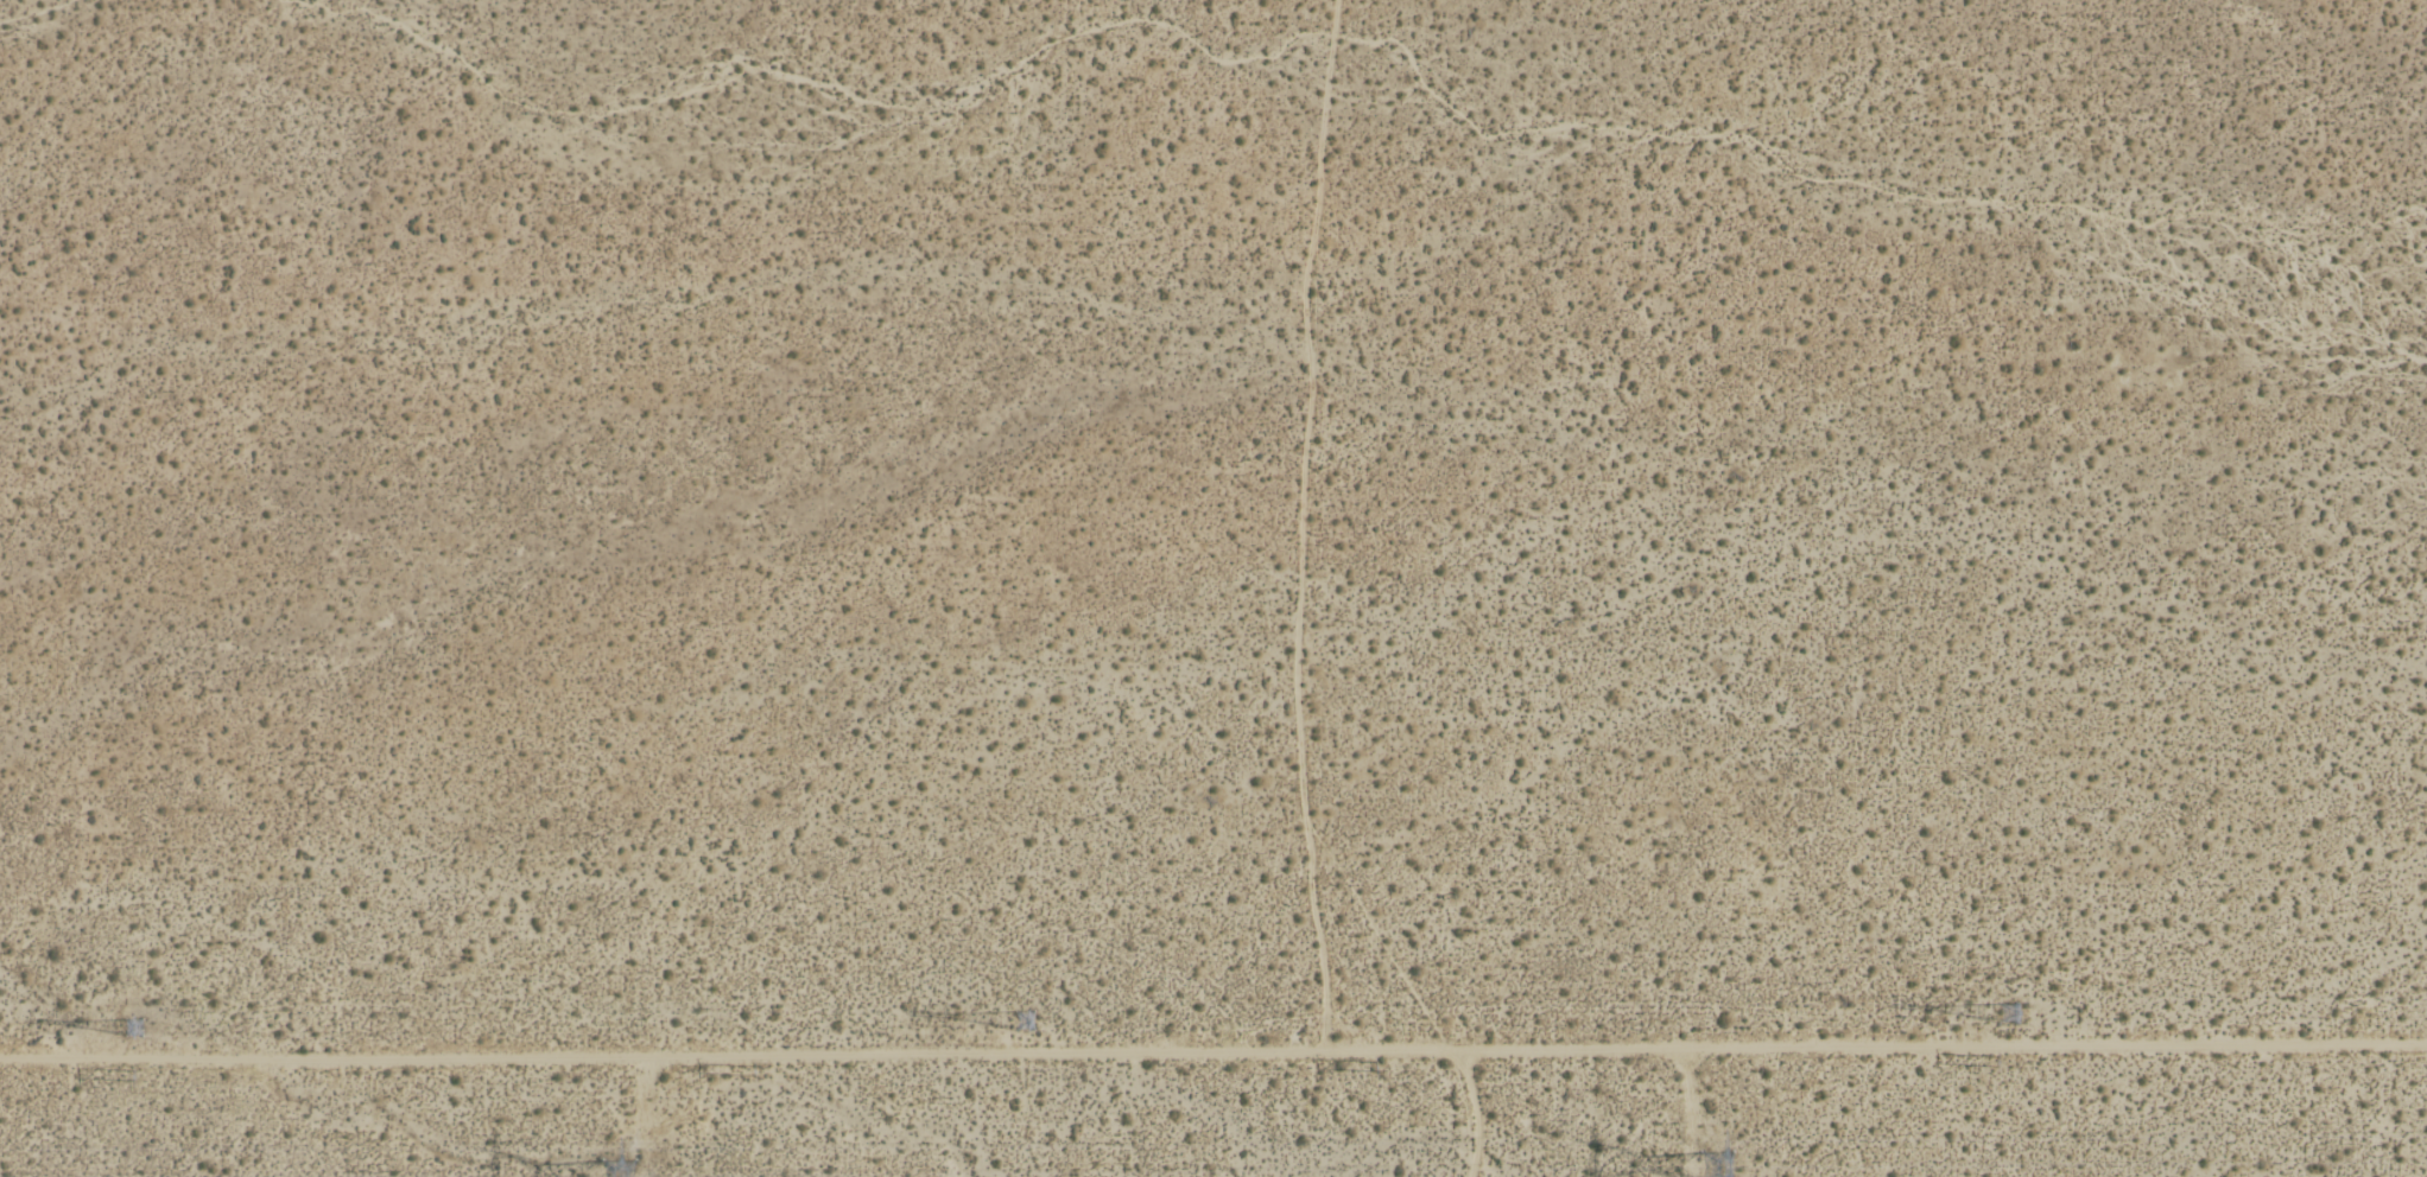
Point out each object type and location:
power tower: (2008, 1016)
power tower: (1032, 1017)
power tower: (129, 1033)
power tower: (2000, 1063)
power tower: (1377, 1069)
power tower: (755, 1073)
power tower: (138, 1075)
power tower: (1721, 1168)

